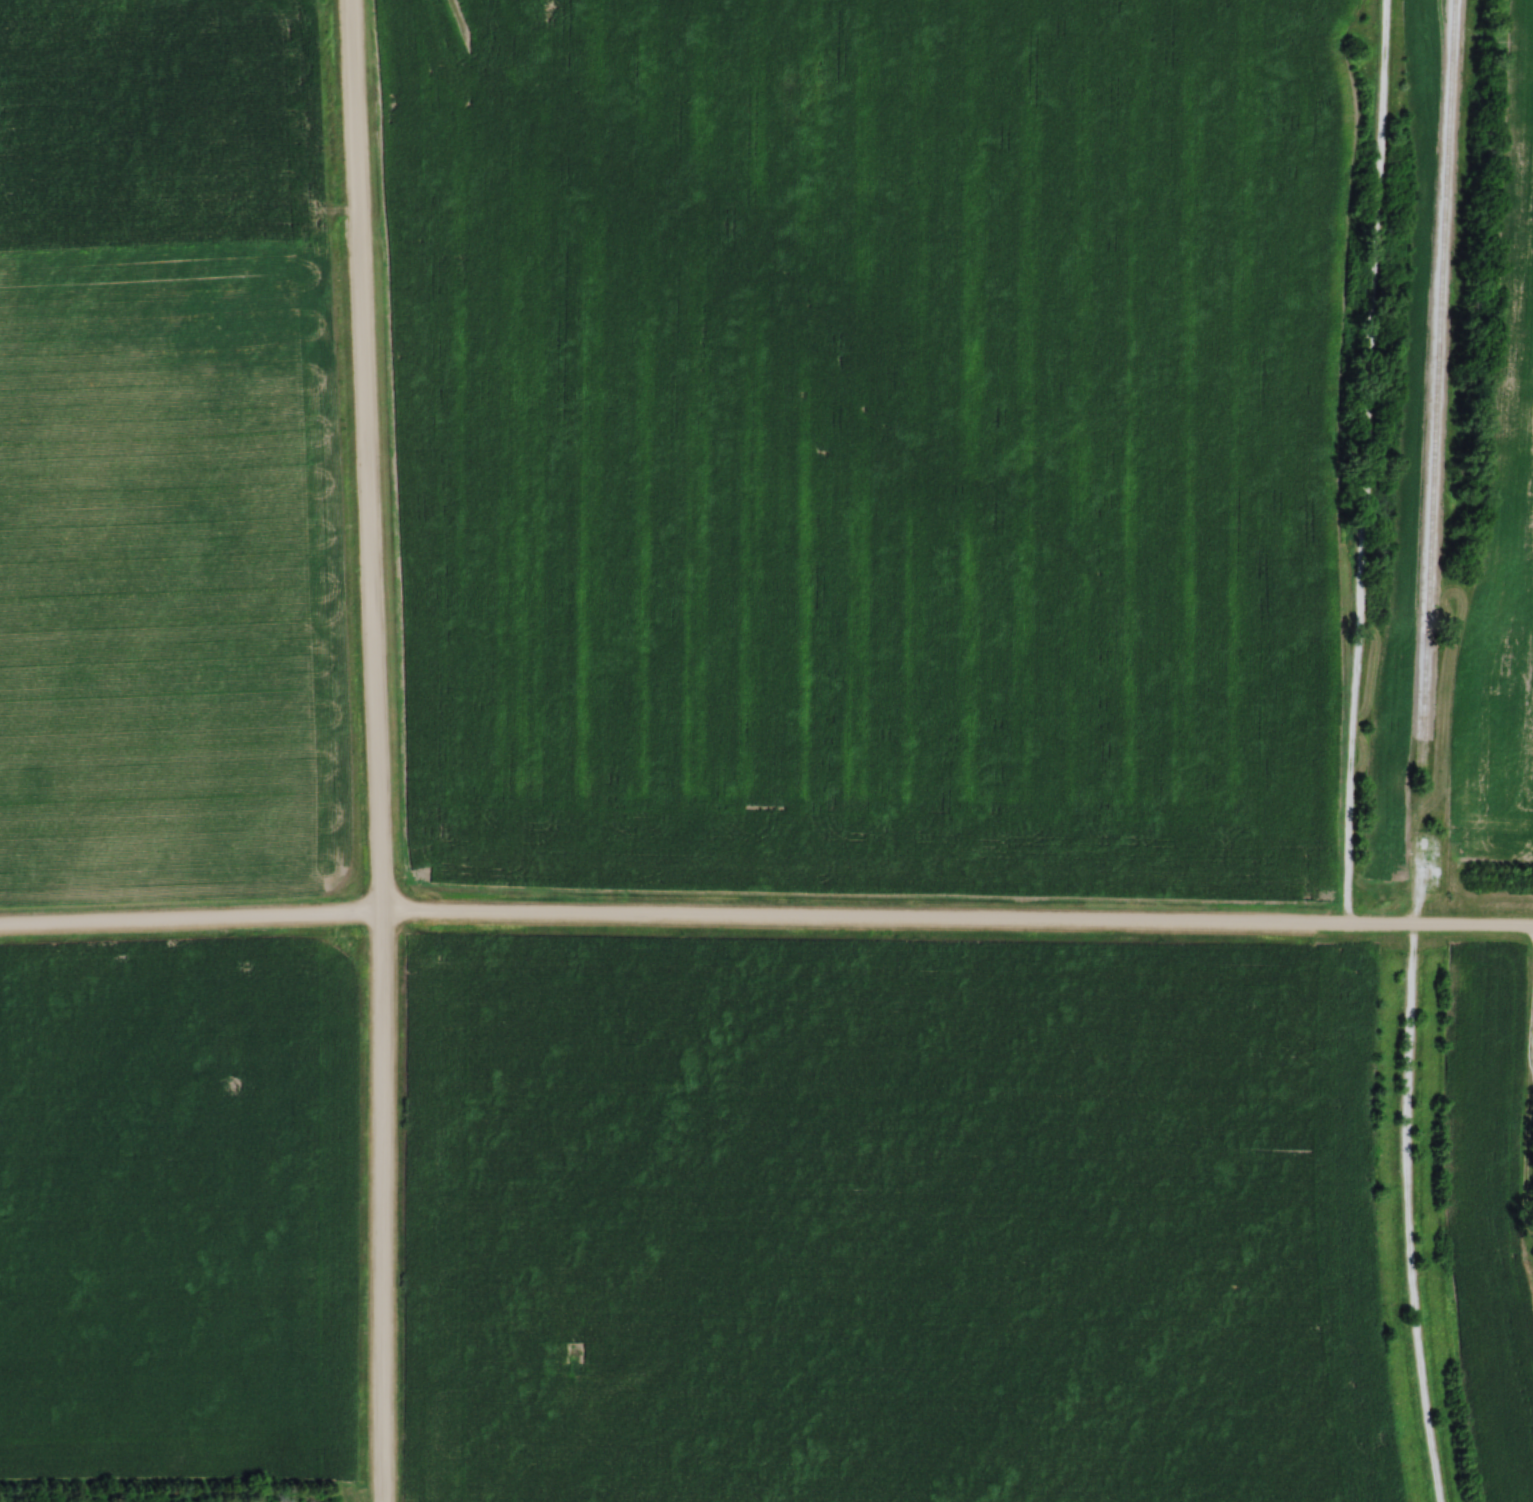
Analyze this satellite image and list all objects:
building: (1368, 334)
railway: (1437, 383)
crop: (873, 441)
road: (1359, 460)
road: (374, 750)
road: (672, 915)
road: (1379, 922)
road: (1472, 924)
road: (1532, 929)
road: (1532, 1046)
road: (1526, 1145)
road: (1403, 1213)
crop: (1491, 1221)

